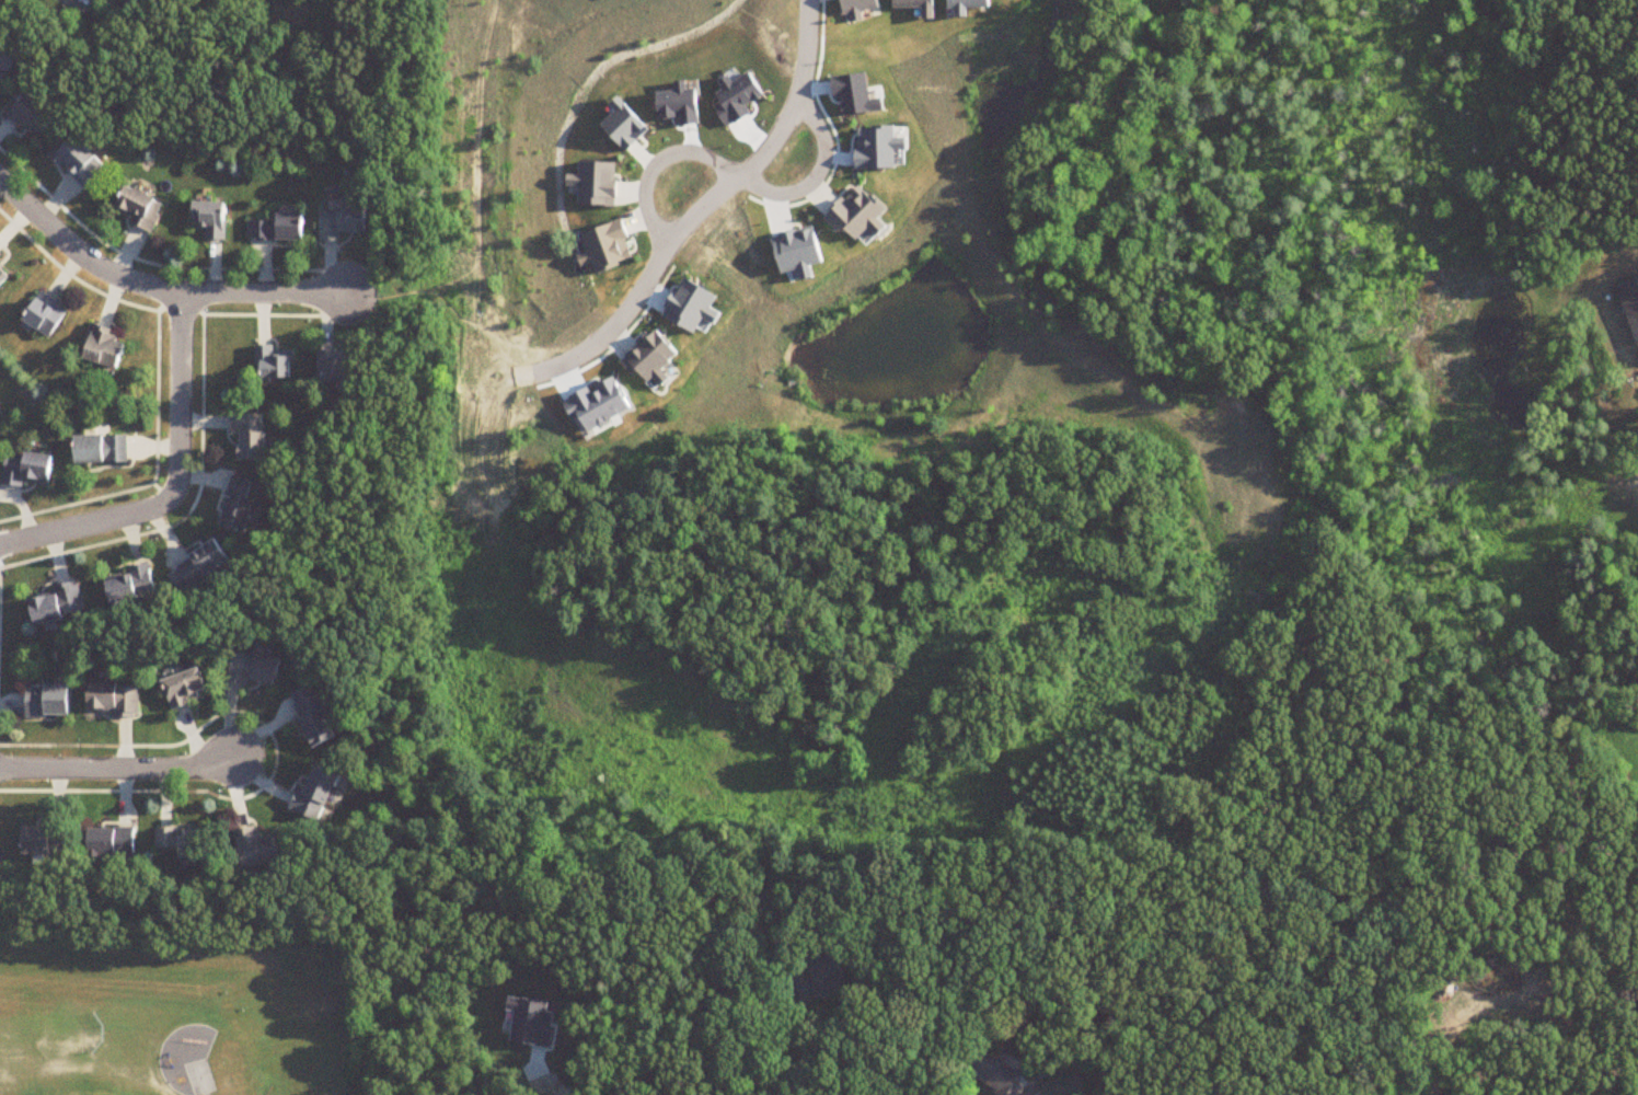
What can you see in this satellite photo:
building: (125, 1)
building: (1, 72)
building: (27, 116)
building: (76, 162)
road: (655, 165)
road: (819, 175)
building: (135, 208)
building: (207, 219)
building: (339, 222)
building: (276, 228)
building: (1, 257)
building: (4, 279)
road: (159, 287)
building: (1629, 306)
building: (48, 315)
building: (107, 348)
road: (574, 359)
building: (272, 362)
building: (336, 368)
building: (1, 419)
building: (244, 437)
building: (103, 450)
building: (32, 470)
road: (177, 484)
building: (233, 505)
building: (196, 567)
building: (128, 586)
building: (55, 604)
building: (251, 669)
building: (182, 689)
building: (111, 700)
building: (47, 701)
building: (310, 716)
road: (120, 768)
building: (312, 793)
building: (42, 841)
building: (109, 842)
building: (183, 843)
building: (254, 848)
building: (811, 981)
road: (781, 1056)
building: (992, 1073)
park: (200, 1077)
road: (540, 1081)
road: (206, 1094)

